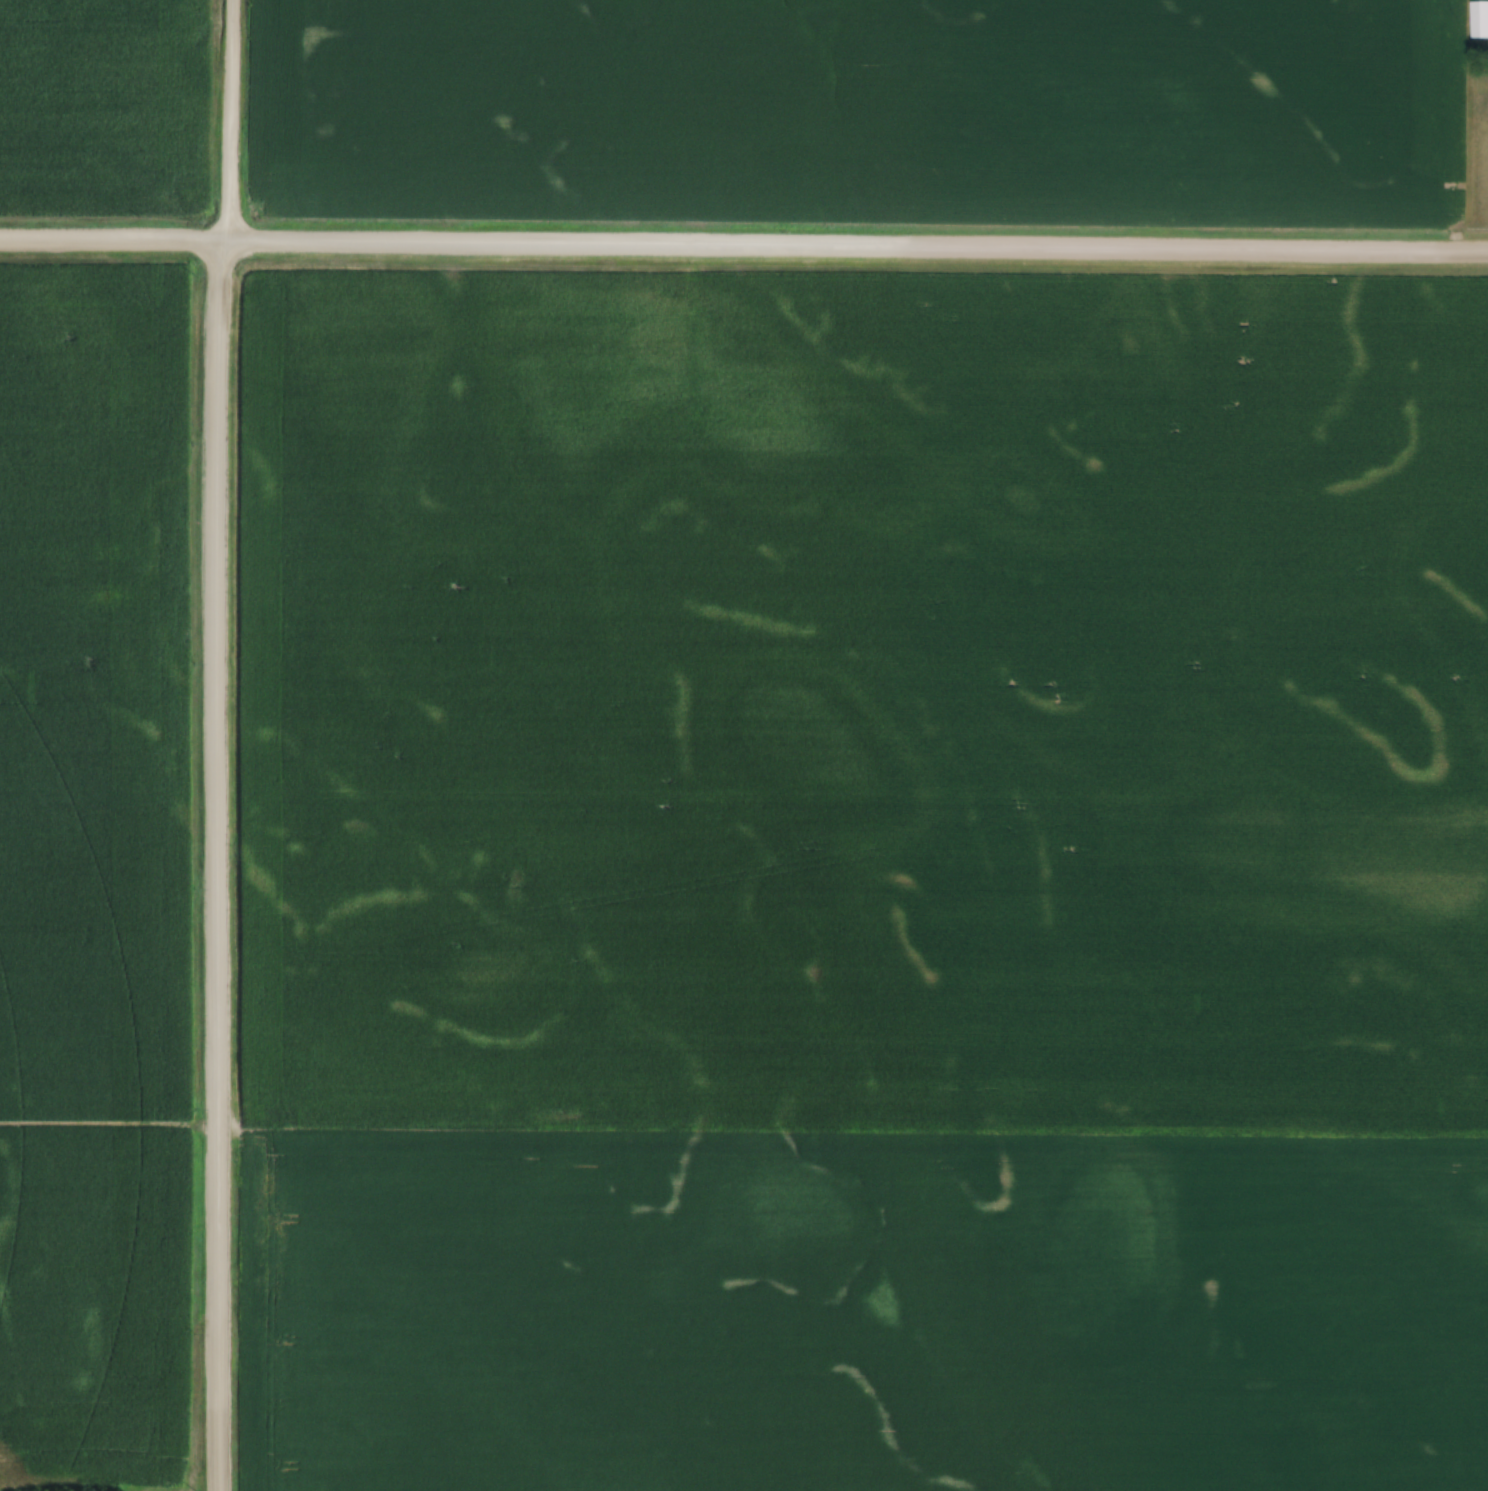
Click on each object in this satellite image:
building: (1479, 19)
road: (744, 245)
road: (213, 744)

